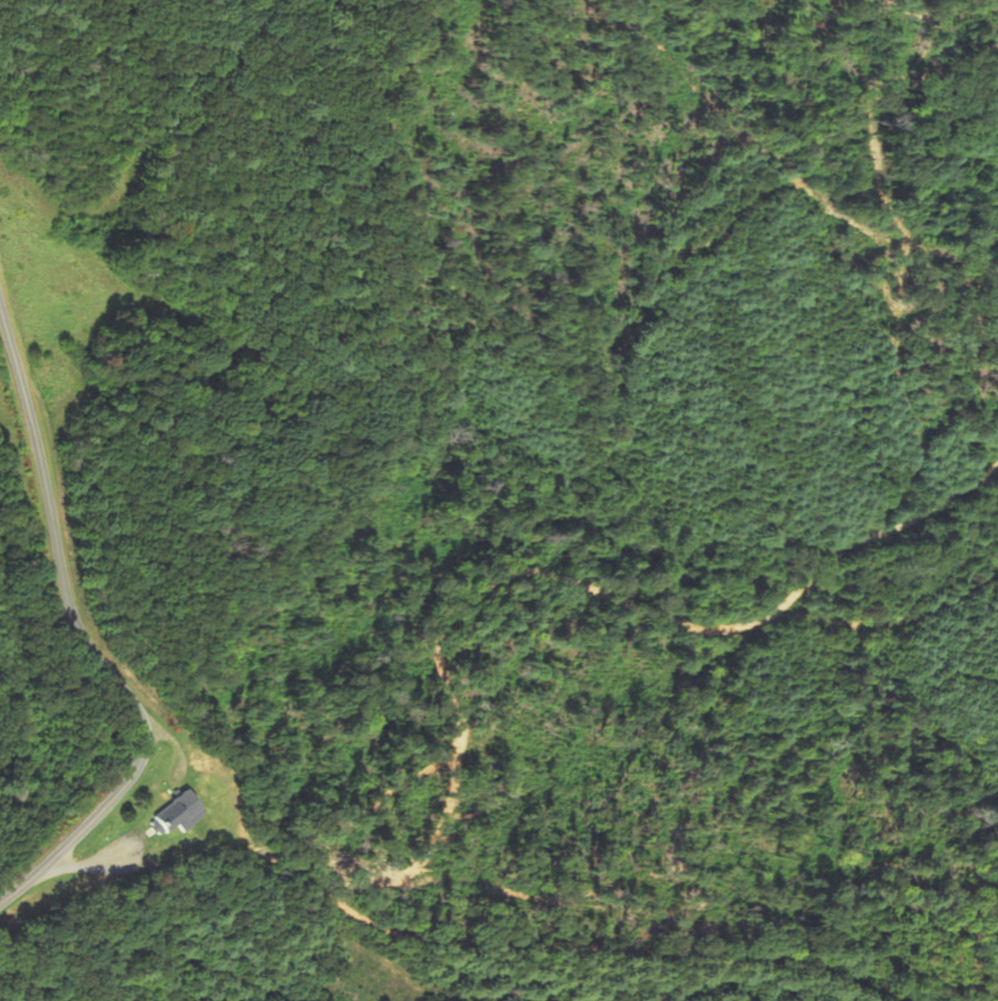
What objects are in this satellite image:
road: (39, 458)
road: (134, 772)
building: (176, 813)
road: (465, 939)

